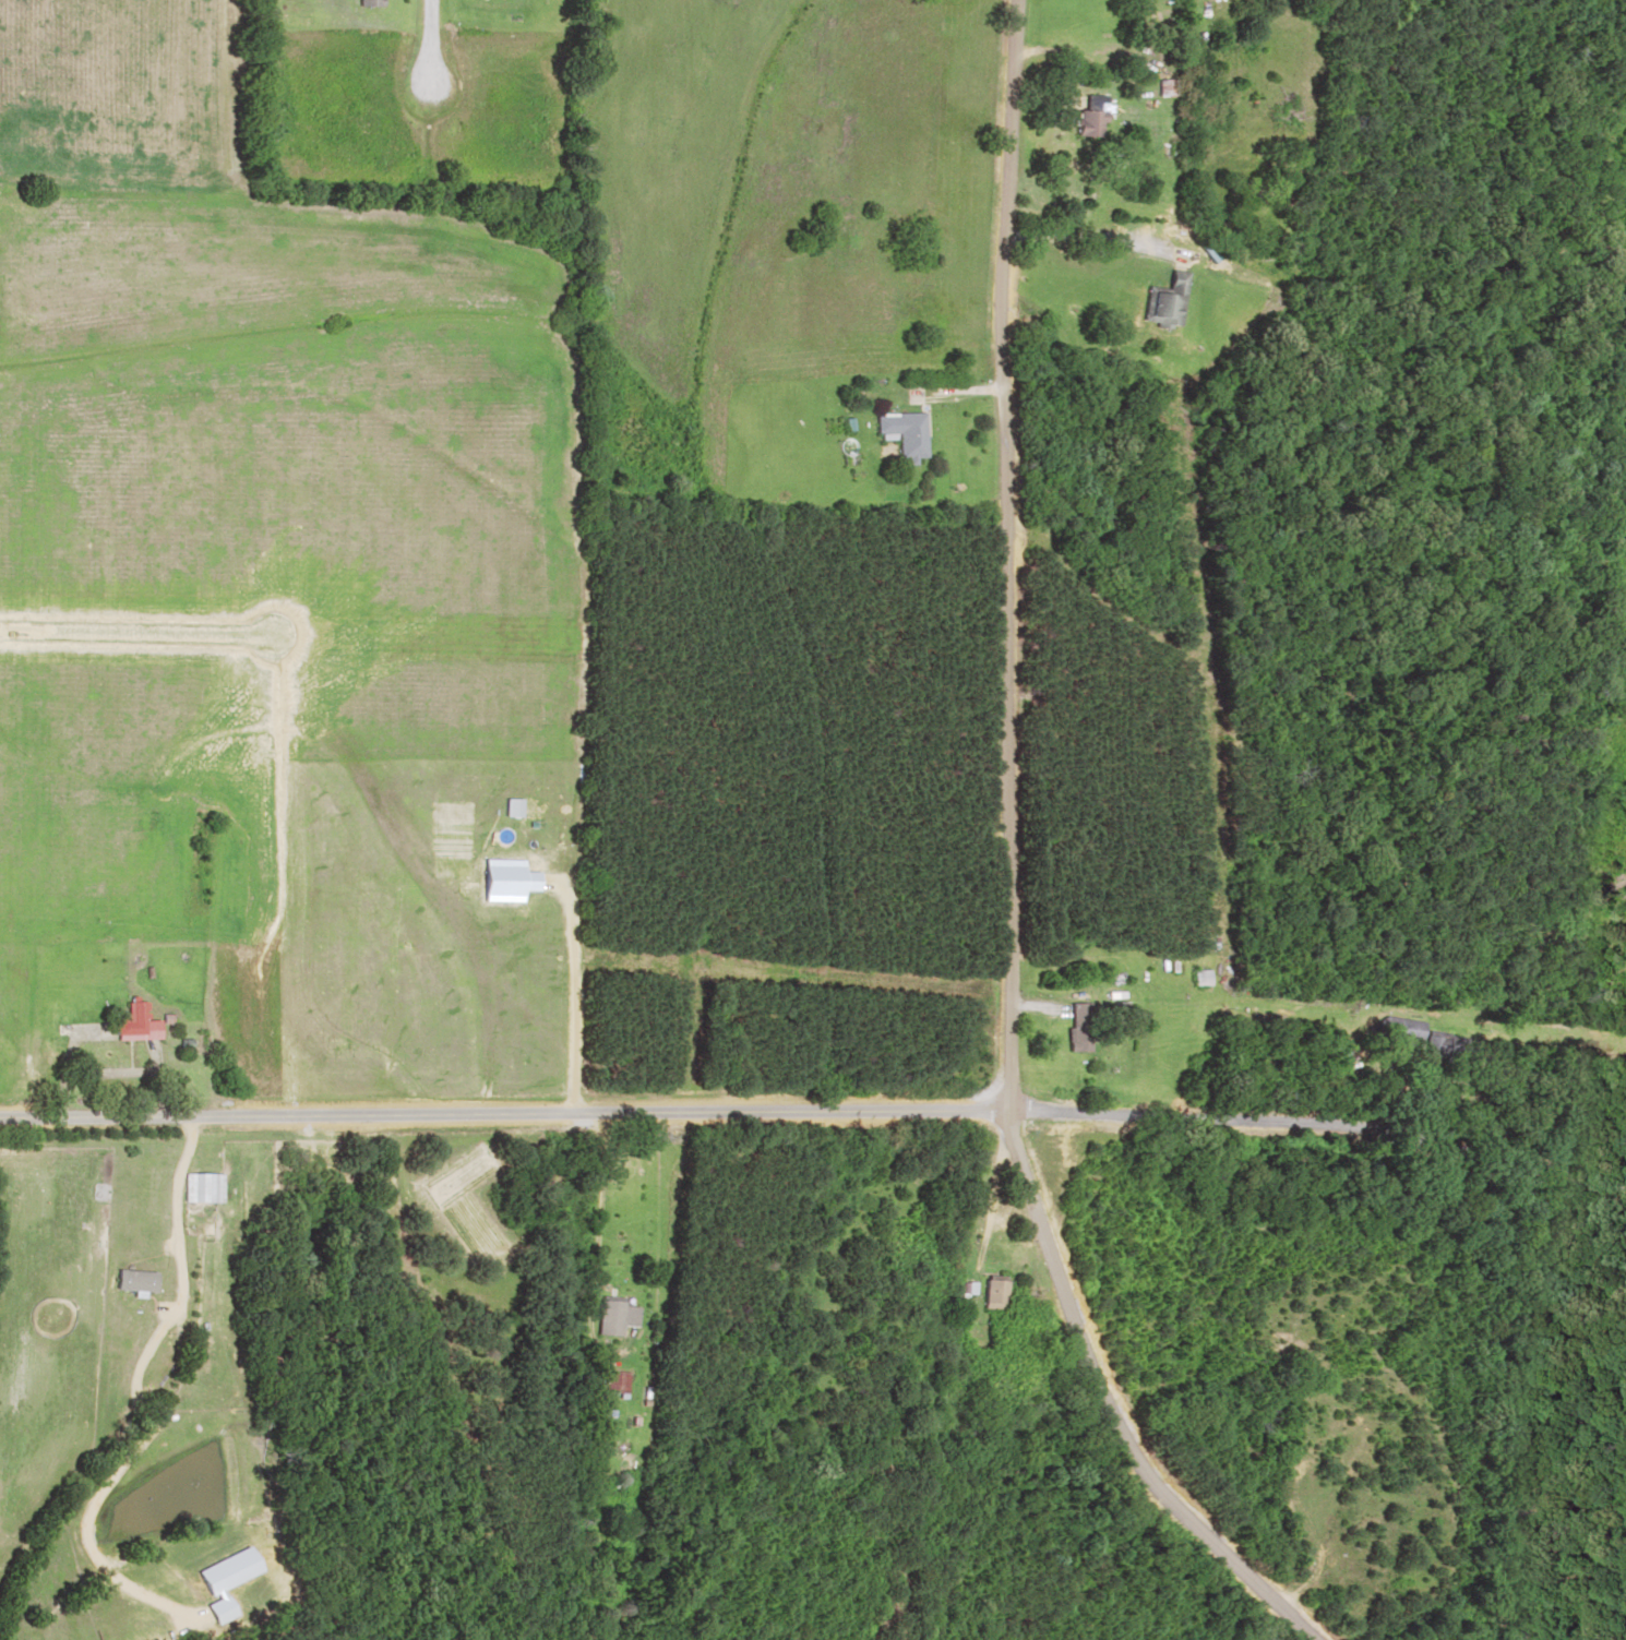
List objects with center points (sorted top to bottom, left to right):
building: (361, 2)
building: (1161, 86)
building: (1091, 116)
building: (1164, 301)
building: (905, 431)
road: (991, 565)
building: (1196, 979)
building: (134, 1021)
building: (1075, 1028)
building: (1447, 1049)
road: (1320, 1123)
road: (505, 1126)
building: (201, 1186)
building: (993, 1291)
building: (612, 1314)
road: (1097, 1417)

